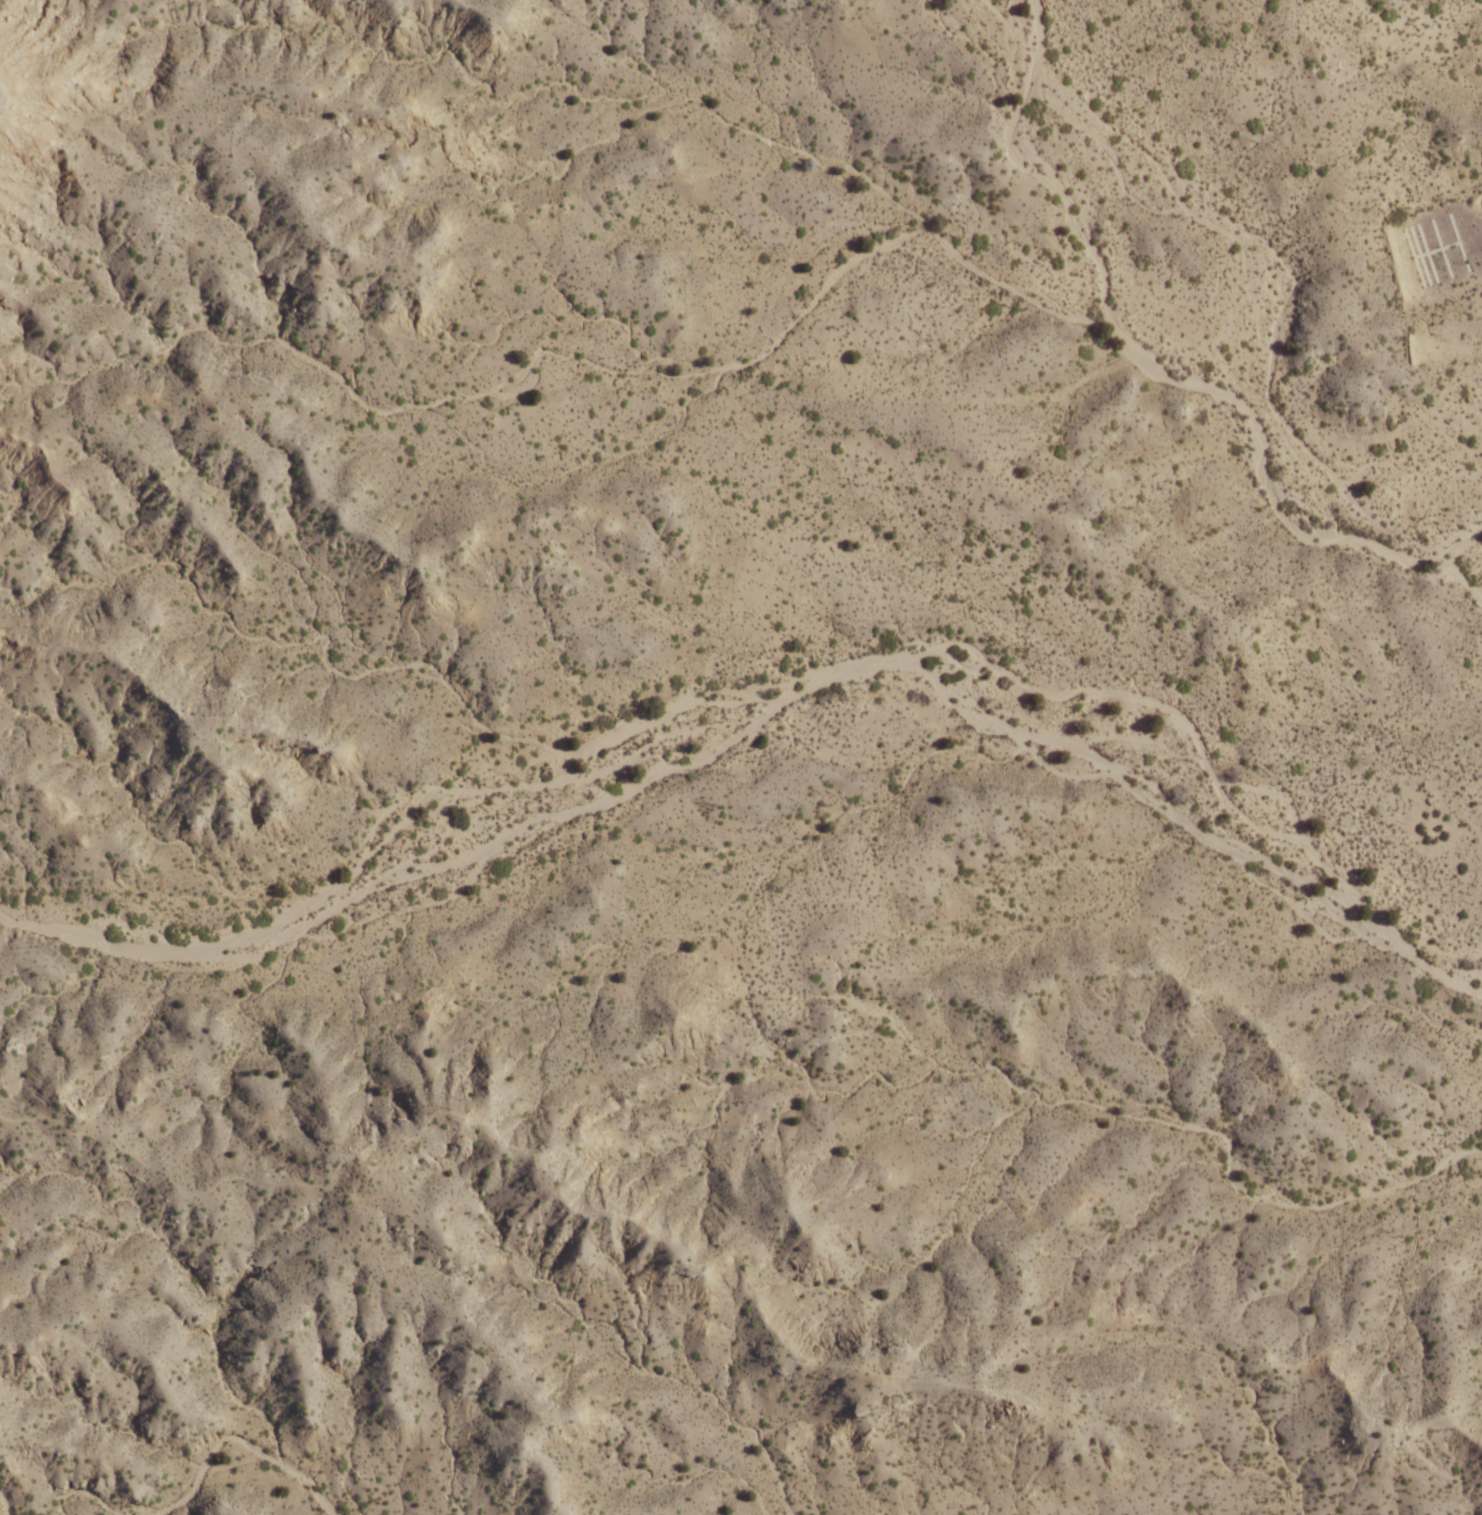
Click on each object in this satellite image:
river: (1163, 374)
road: (743, 1283)

